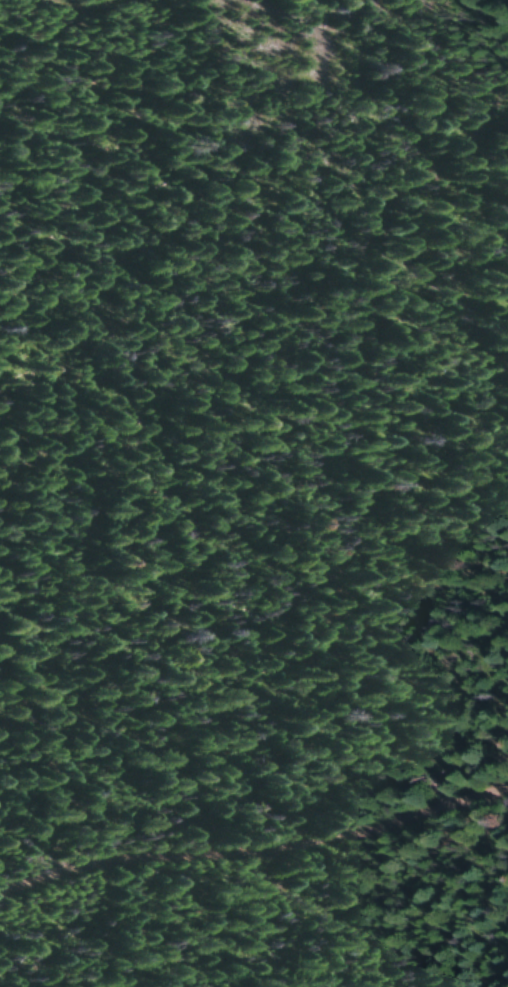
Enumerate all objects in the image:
road: (467, 29)
road: (250, 774)

